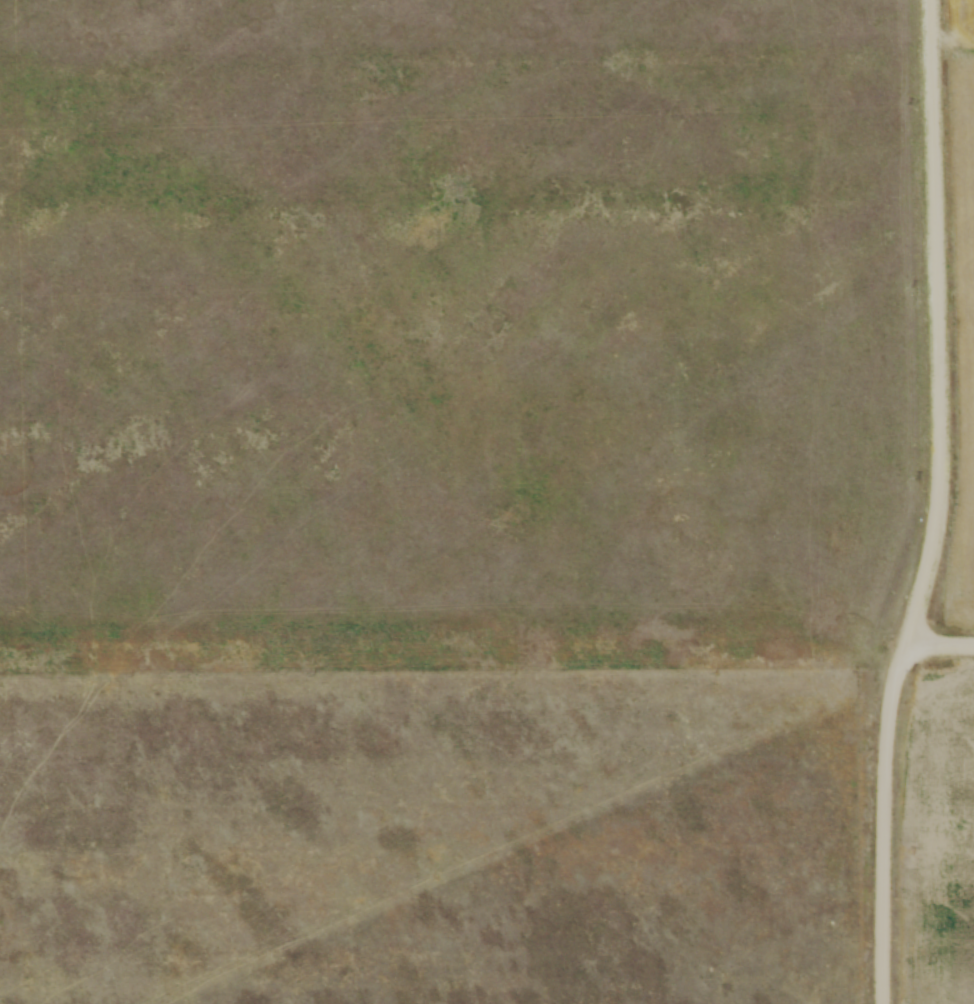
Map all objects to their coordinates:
crop: (961, 314)
road: (939, 326)
road: (939, 649)
road: (883, 825)
crop: (941, 843)

